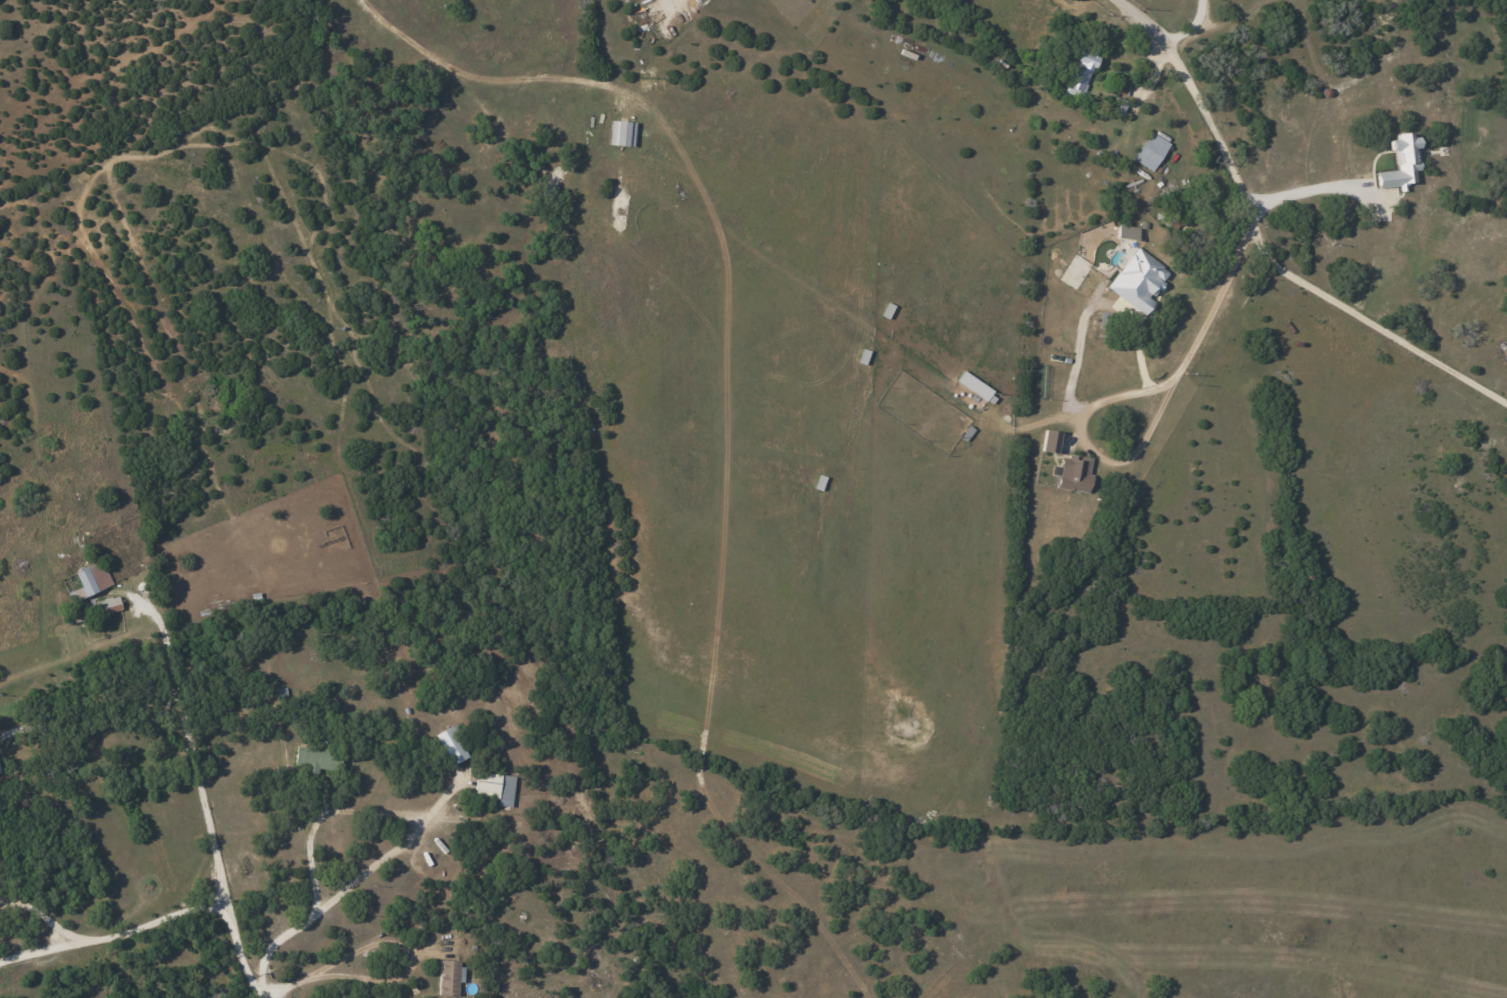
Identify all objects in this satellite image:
road: (1139, 26)
road: (1186, 29)
building: (1079, 74)
road: (474, 77)
building: (1121, 86)
building: (621, 133)
building: (1150, 151)
building: (1400, 163)
road: (1308, 201)
road: (1287, 273)
building: (1136, 279)
road: (1076, 354)
building: (975, 387)
road: (1124, 391)
road: (1029, 423)
building: (1049, 441)
building: (1072, 473)
building: (90, 580)
road: (190, 743)
building: (450, 745)
building: (315, 758)
building: (494, 787)
road: (339, 816)
road: (382, 868)
road: (40, 916)
road: (113, 934)
road: (240, 952)
road: (361, 954)
building: (448, 976)

